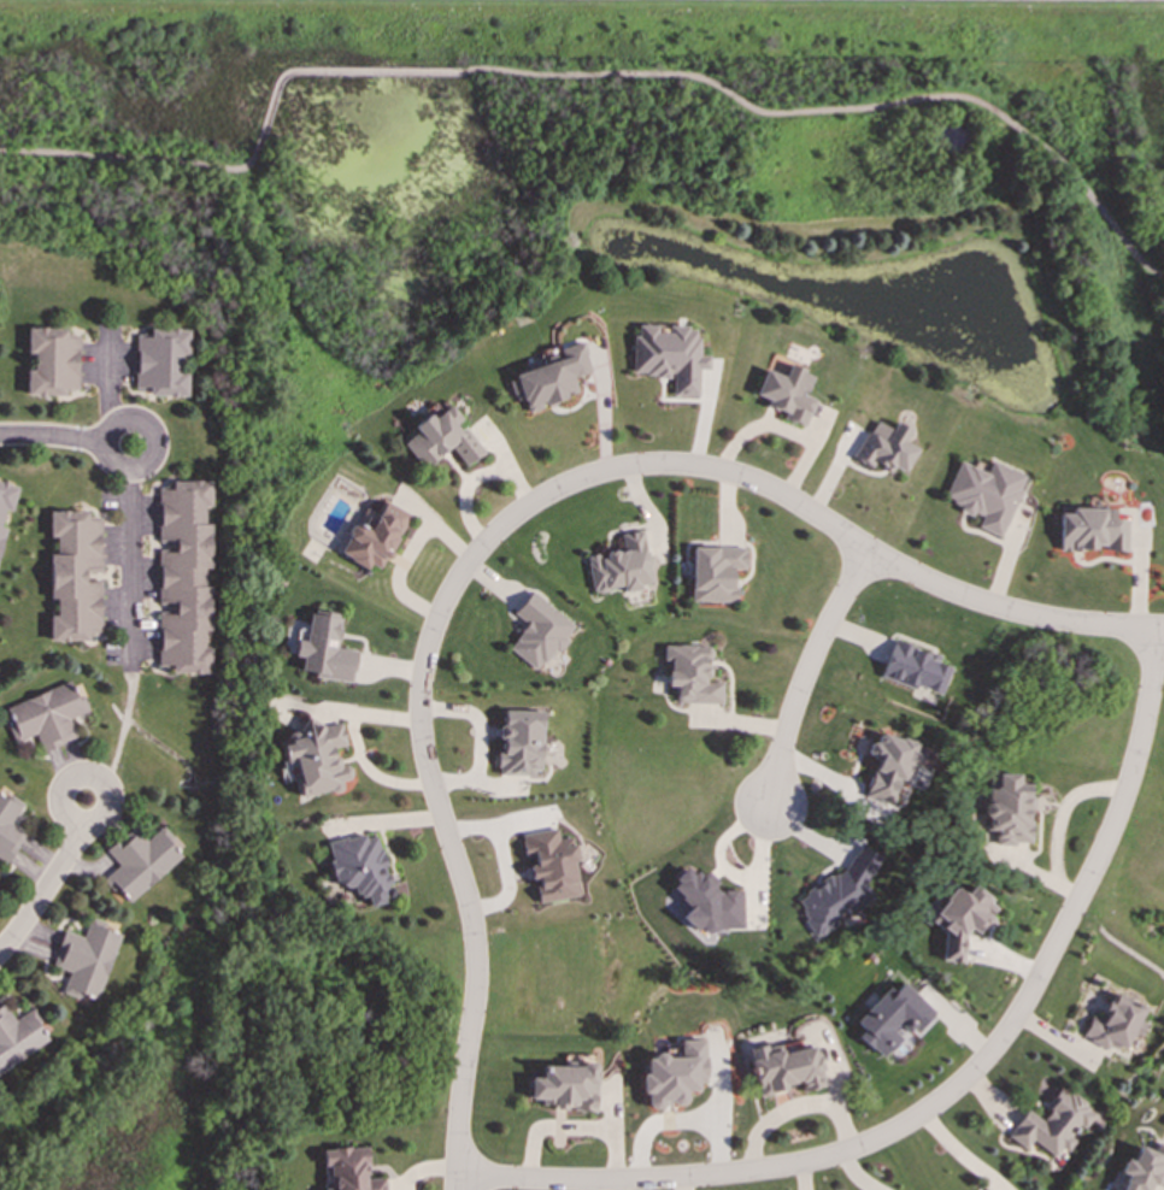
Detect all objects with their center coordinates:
road: (331, 70)
road: (847, 108)
road: (129, 157)
park: (631, 198)
building: (668, 355)
building: (51, 361)
building: (161, 363)
building: (548, 378)
building: (786, 393)
road: (148, 434)
road: (53, 435)
building: (441, 438)
building: (884, 447)
building: (983, 494)
building: (6, 496)
building: (1089, 530)
building: (1, 531)
building: (374, 537)
building: (619, 565)
road: (130, 569)
building: (713, 572)
building: (74, 576)
building: (184, 577)
road: (936, 585)
building: (537, 631)
building: (324, 648)
building: (915, 668)
building: (690, 673)
road: (809, 676)
building: (46, 715)
road: (423, 727)
road: (123, 729)
building: (519, 741)
building: (317, 758)
building: (893, 764)
building: (1006, 809)
road: (76, 824)
building: (8, 827)
building: (139, 861)
building: (549, 864)
building: (360, 866)
road: (43, 891)
building: (839, 892)
building: (707, 902)
building: (960, 919)
building: (84, 958)
building: (889, 1018)
building: (1116, 1024)
building: (18, 1036)
building: (786, 1066)
building: (672, 1073)
road: (953, 1084)
building: (564, 1085)
park: (153, 1094)
building: (1052, 1124)
building: (348, 1168)
building: (1142, 1168)

